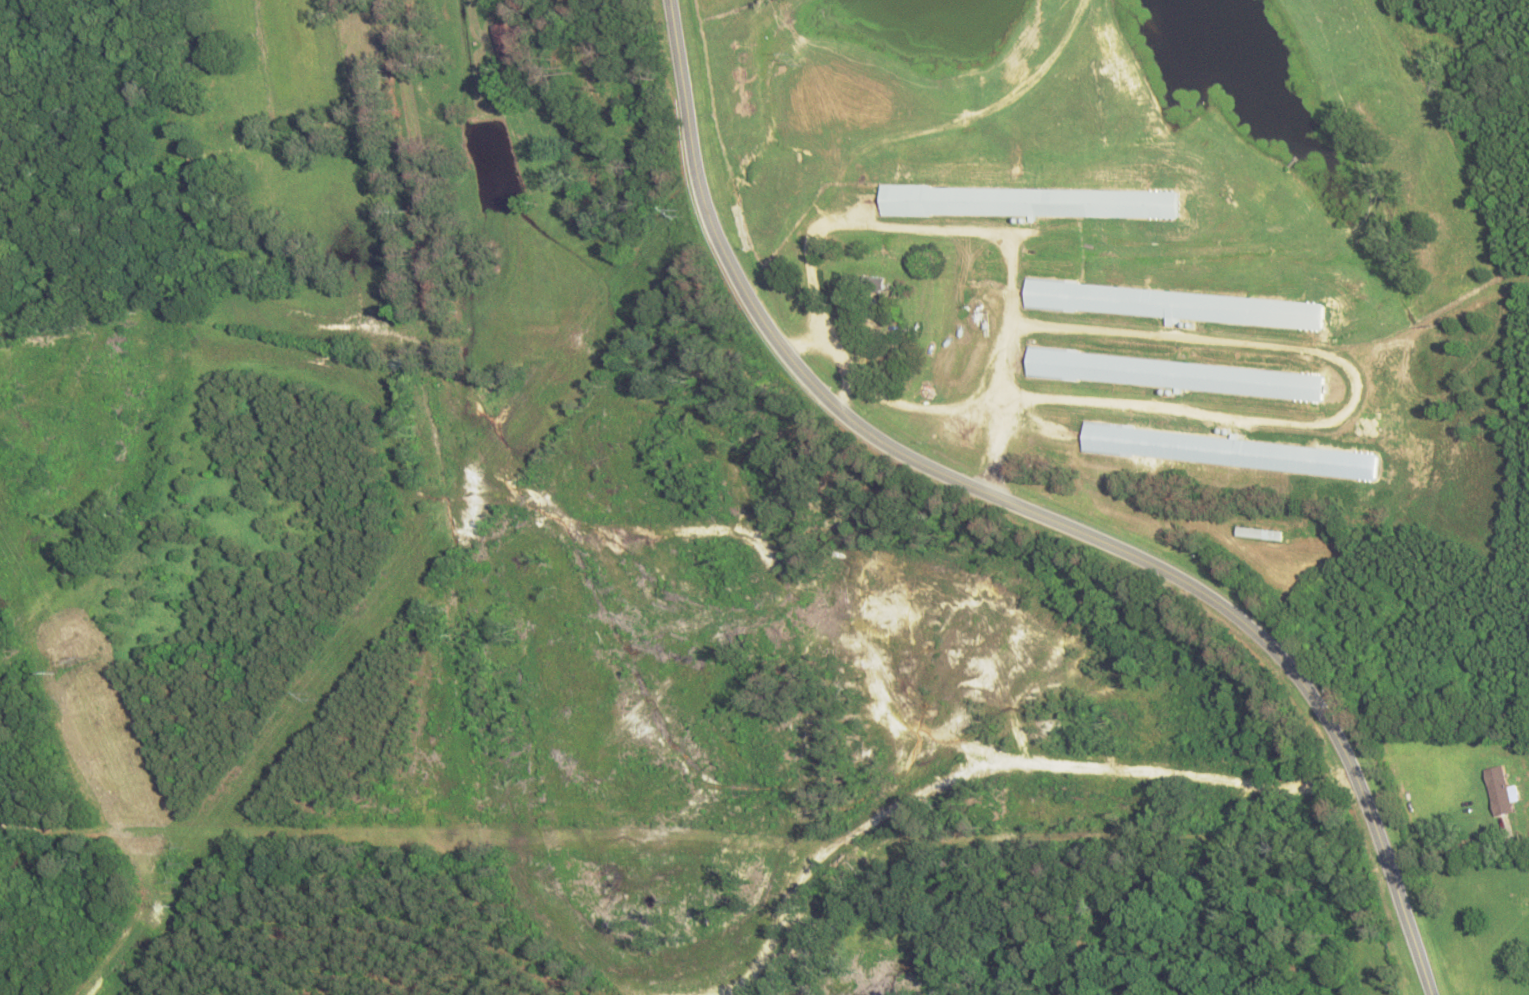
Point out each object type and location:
building: (506, 42)
power tower: (816, 54)
power tower: (683, 215)
building: (1229, 454)
road: (1025, 510)
power tower: (77, 665)
power tower: (331, 692)
building: (1501, 793)
power tower: (180, 866)

